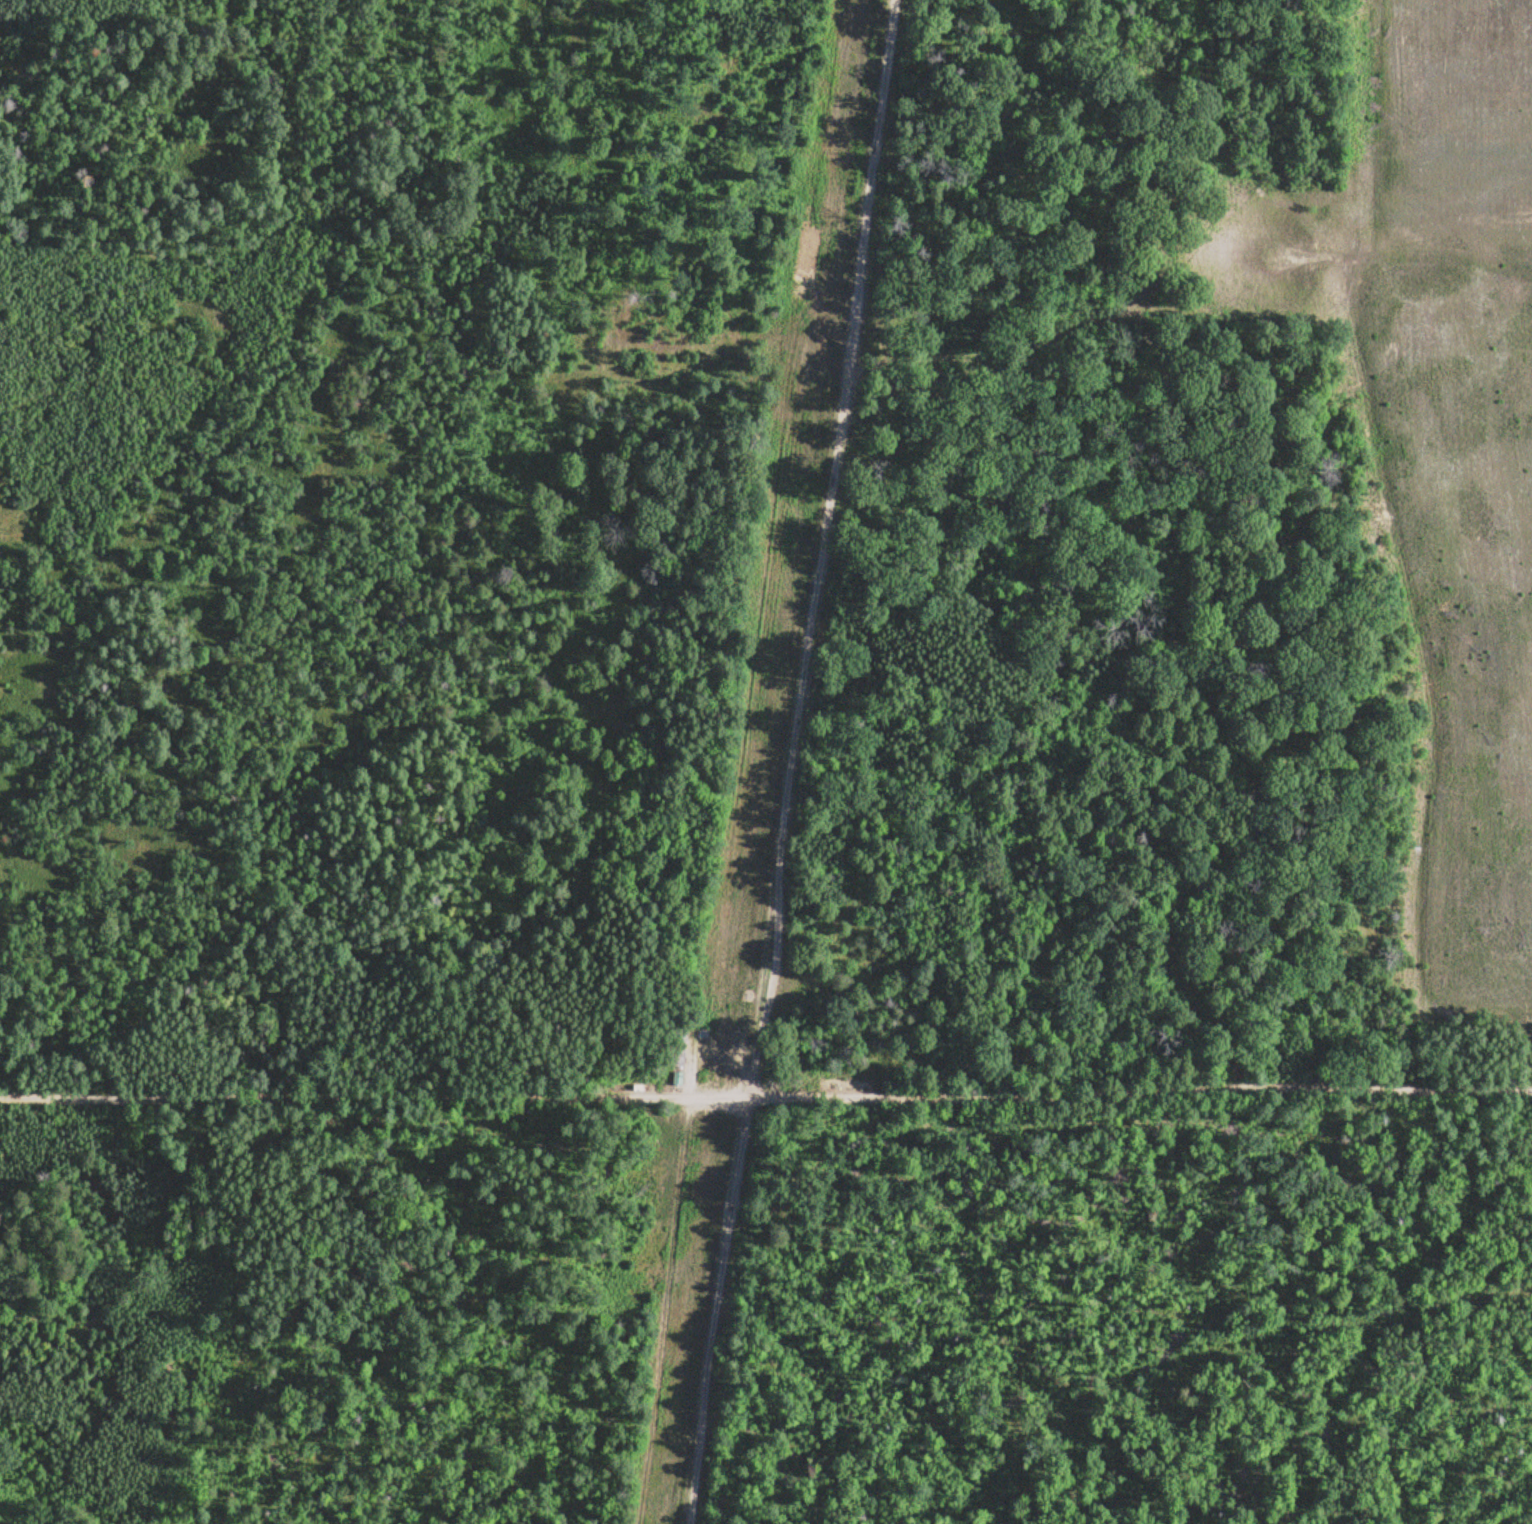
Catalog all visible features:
road: (795, 762)
building: (674, 1066)
road: (766, 1099)

